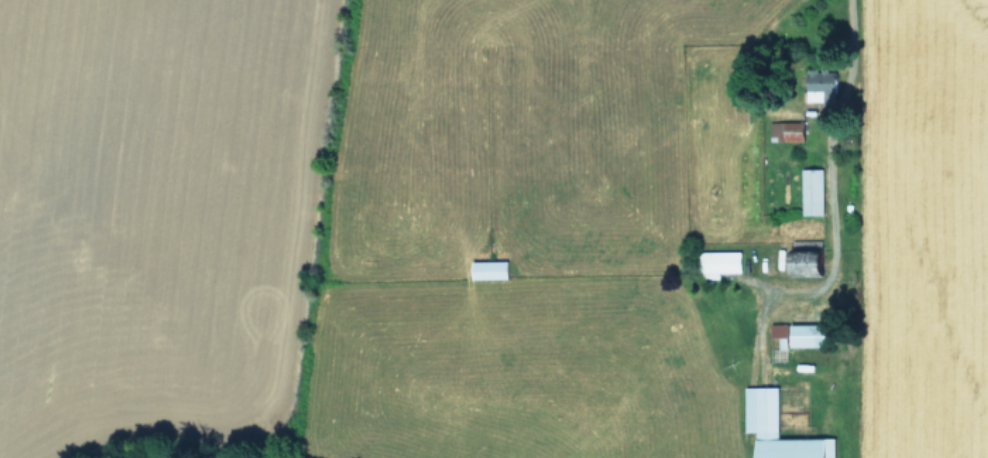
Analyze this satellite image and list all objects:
building: (816, 86)
building: (783, 131)
road: (828, 133)
building: (808, 191)
crop: (495, 227)
building: (716, 264)
building: (485, 269)
building: (776, 334)
building: (800, 335)
building: (773, 430)

